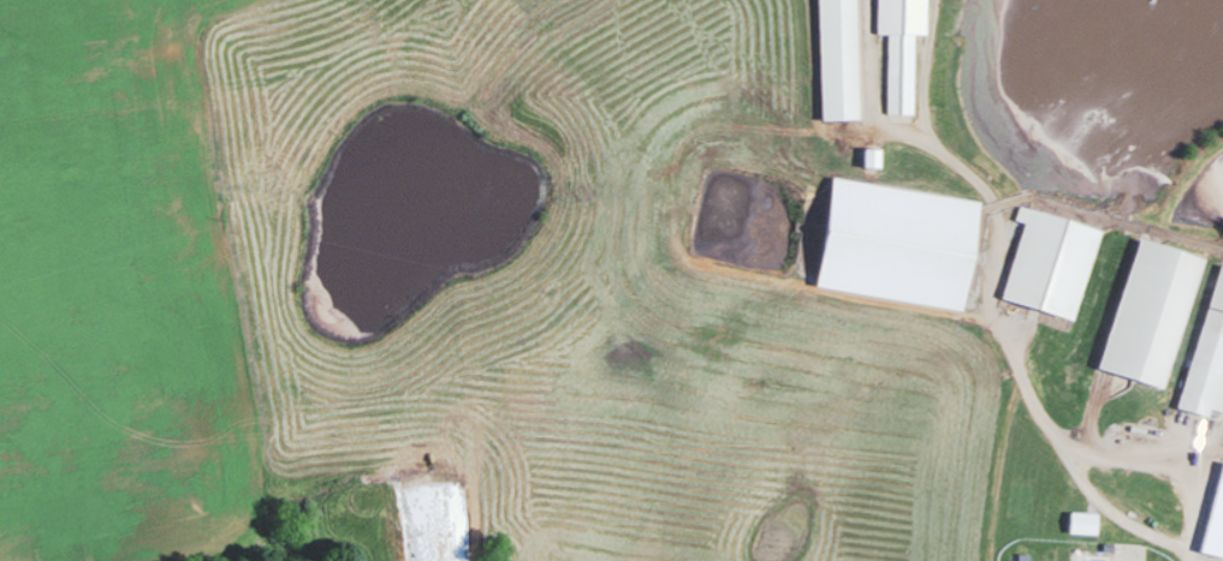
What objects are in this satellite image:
building: (898, 48)
building: (835, 59)
building: (869, 156)
building: (891, 241)
building: (1046, 262)
building: (1147, 312)
building: (1206, 353)
building: (1081, 521)
building: (1023, 556)

